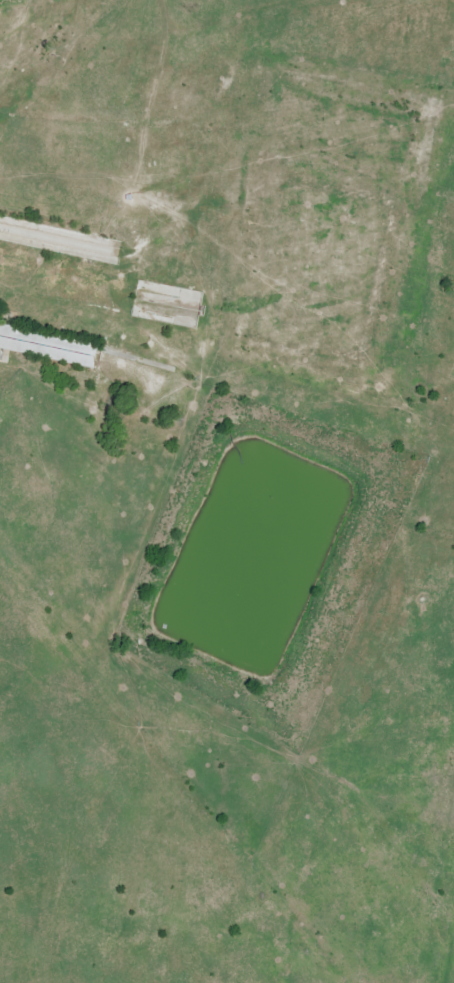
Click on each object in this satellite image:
building: (55, 240)
building: (45, 342)

